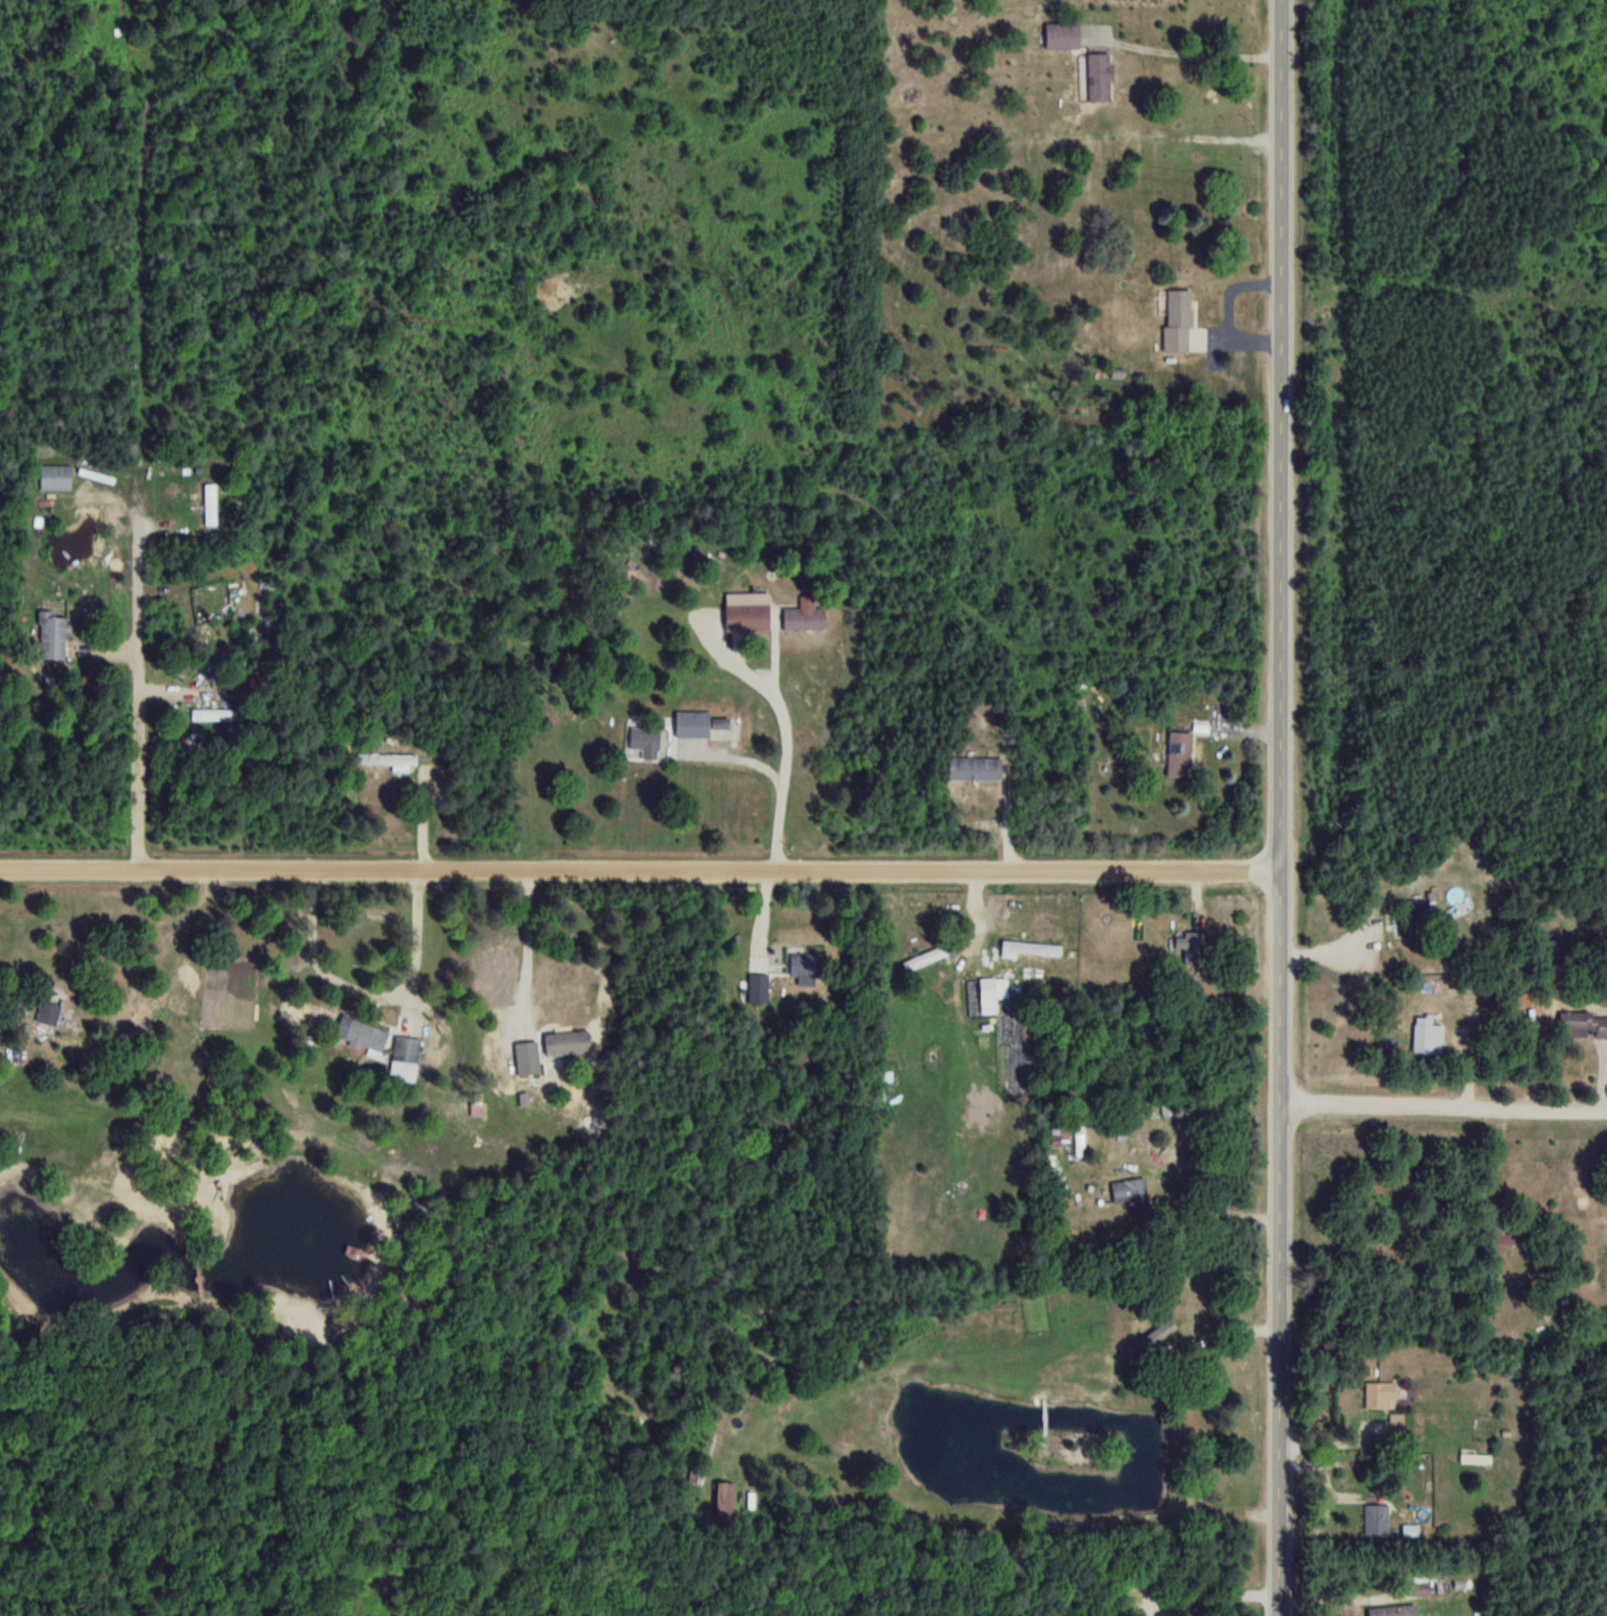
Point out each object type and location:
building: (1062, 35)
road: (1189, 54)
building: (1099, 76)
building: (1177, 319)
building: (54, 476)
building: (210, 501)
road: (152, 534)
building: (803, 614)
building: (746, 615)
building: (51, 634)
building: (213, 713)
building: (692, 723)
building: (719, 727)
road: (786, 727)
building: (644, 740)
building: (1178, 753)
building: (385, 758)
building: (974, 767)
road: (1280, 807)
road: (640, 870)
road: (764, 916)
building: (1038, 944)
road: (523, 945)
building: (1190, 945)
building: (926, 956)
road: (153, 958)
building: (807, 964)
building: (758, 987)
road: (370, 991)
building: (987, 992)
building: (50, 1005)
building: (1583, 1025)
building: (360, 1034)
building: (1427, 1035)
building: (566, 1042)
building: (406, 1052)
building: (526, 1056)
road: (1443, 1106)
building: (1059, 1133)
building: (1128, 1189)
road: (1218, 1208)
building: (1503, 1235)
building: (352, 1251)
building: (1155, 1336)
building: (1379, 1395)
building: (1476, 1458)
building: (724, 1494)
building: (1376, 1519)
building: (1409, 1529)
building: (1420, 1588)

